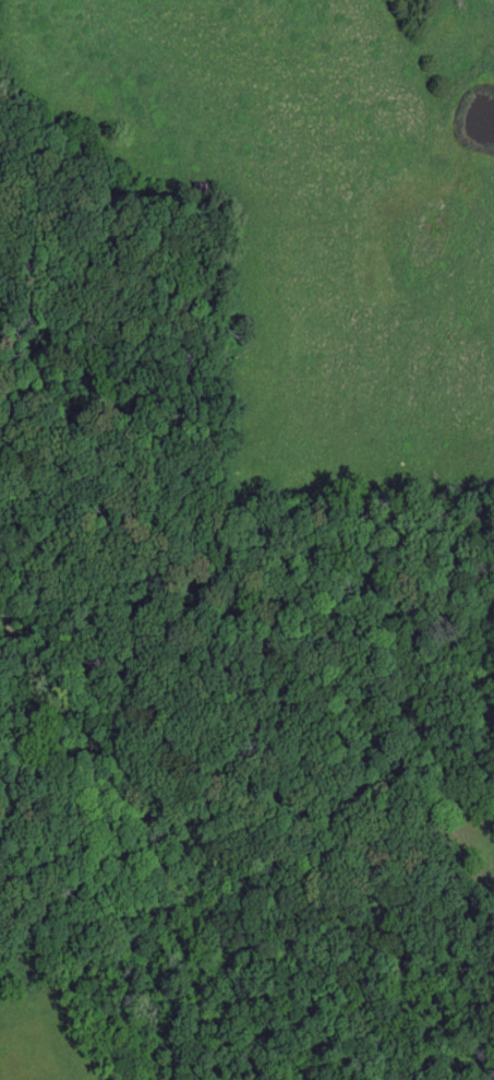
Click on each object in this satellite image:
road: (172, 816)

